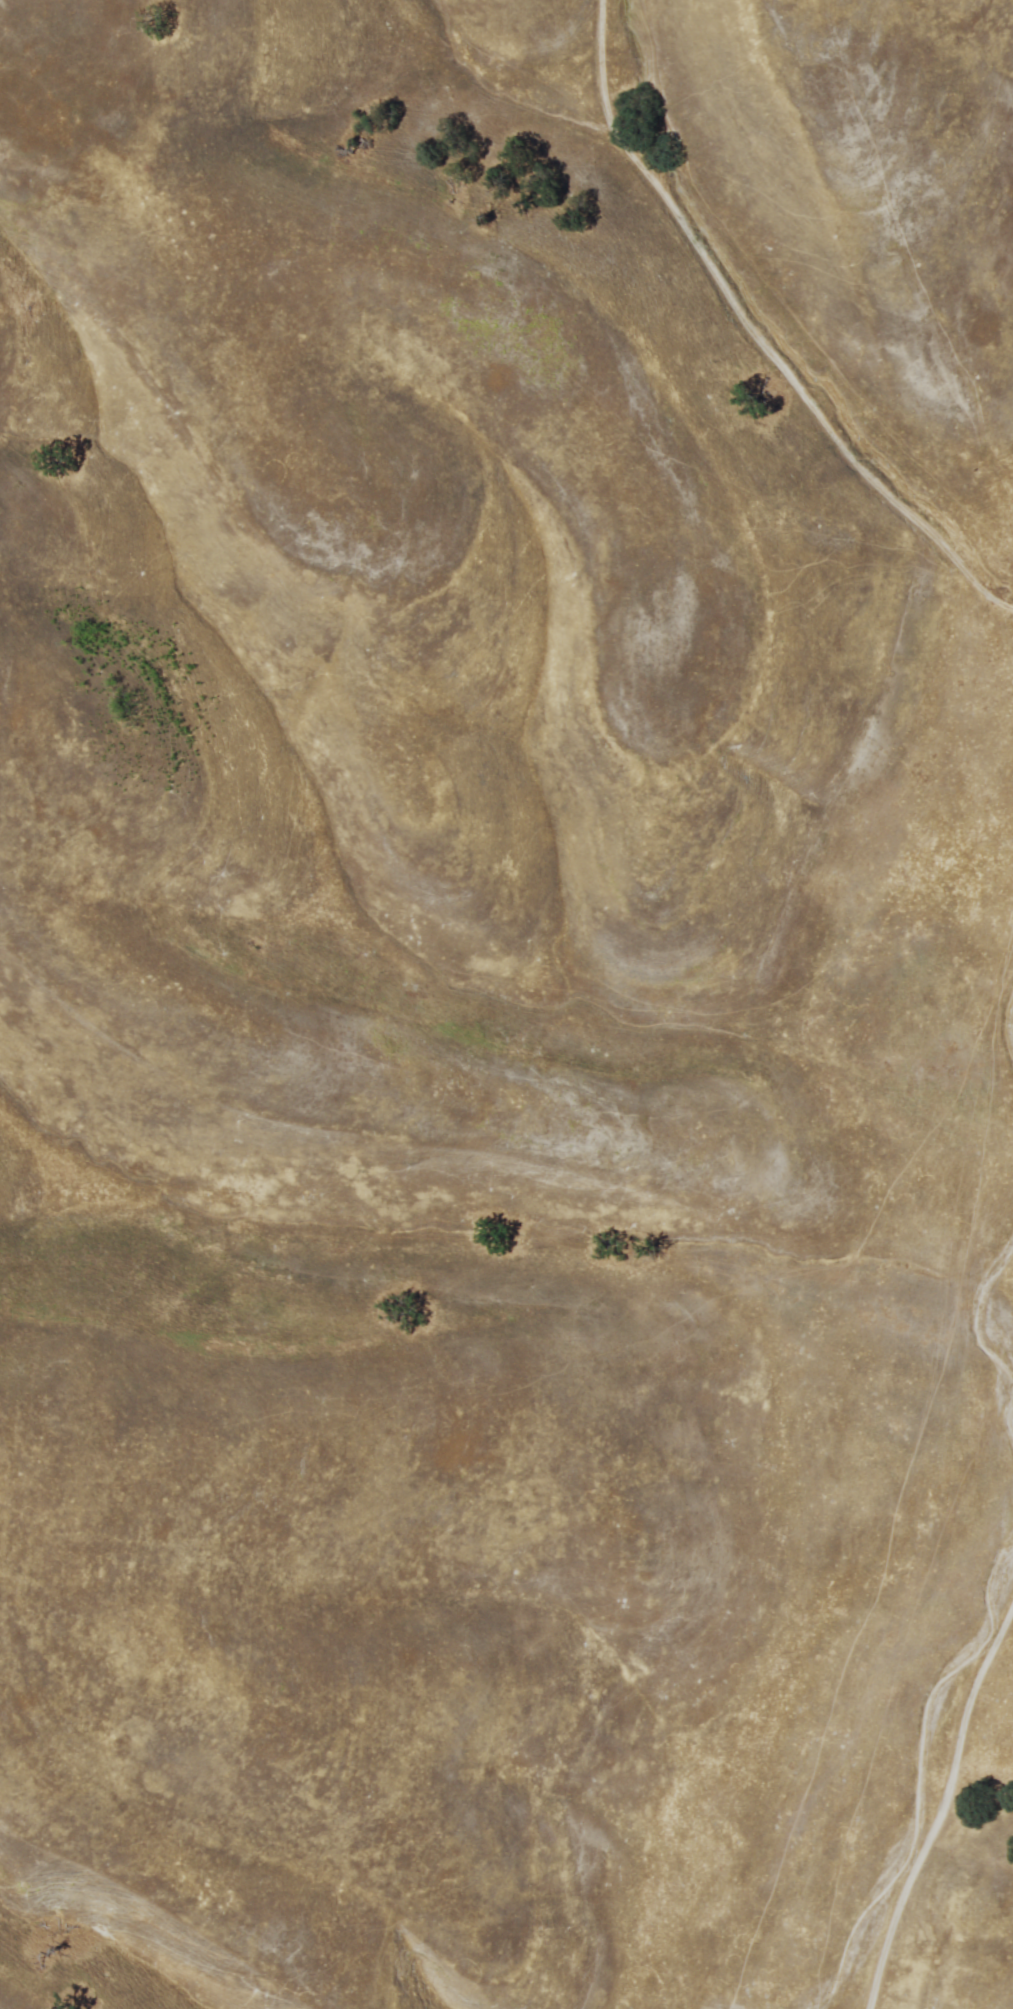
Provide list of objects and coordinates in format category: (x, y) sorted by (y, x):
road: (745, 337)
road: (940, 1804)

